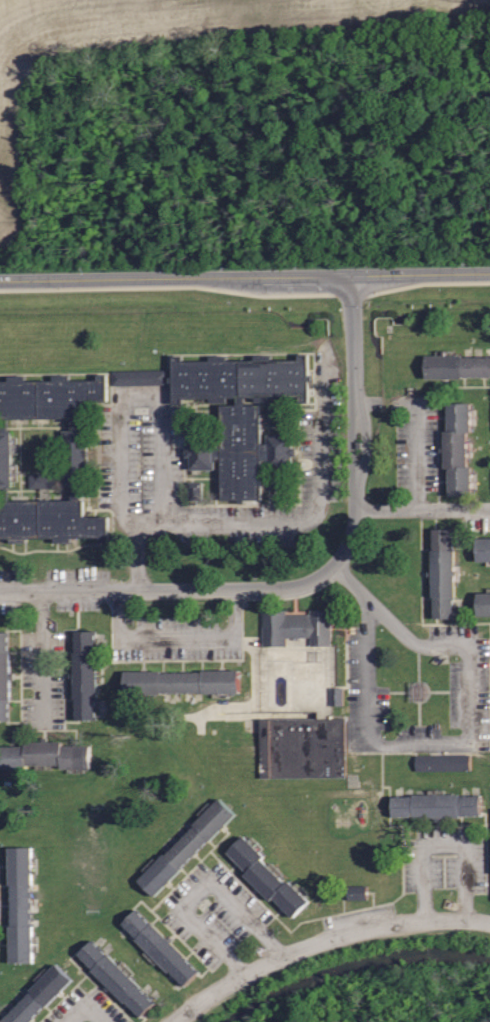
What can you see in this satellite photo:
crop: (147, 48)
road: (245, 276)
building: (456, 365)
building: (141, 378)
road: (355, 392)
building: (240, 416)
road: (416, 425)
road: (163, 441)
building: (459, 450)
building: (46, 458)
building: (198, 492)
road: (422, 508)
road: (232, 522)
building: (483, 549)
road: (137, 557)
building: (442, 572)
road: (351, 582)
road: (159, 587)
road: (65, 589)
building: (482, 603)
building: (296, 626)
road: (442, 646)
road: (43, 659)
building: (84, 674)
building: (4, 675)
building: (181, 681)
building: (339, 698)
building: (301, 745)
building: (44, 755)
building: (446, 764)
building: (436, 805)
road: (444, 845)
building: (186, 846)
building: (267, 876)
road: (199, 890)
building: (21, 903)
road: (321, 940)
building: (160, 947)
building: (116, 978)
building: (39, 995)
road: (87, 1011)

